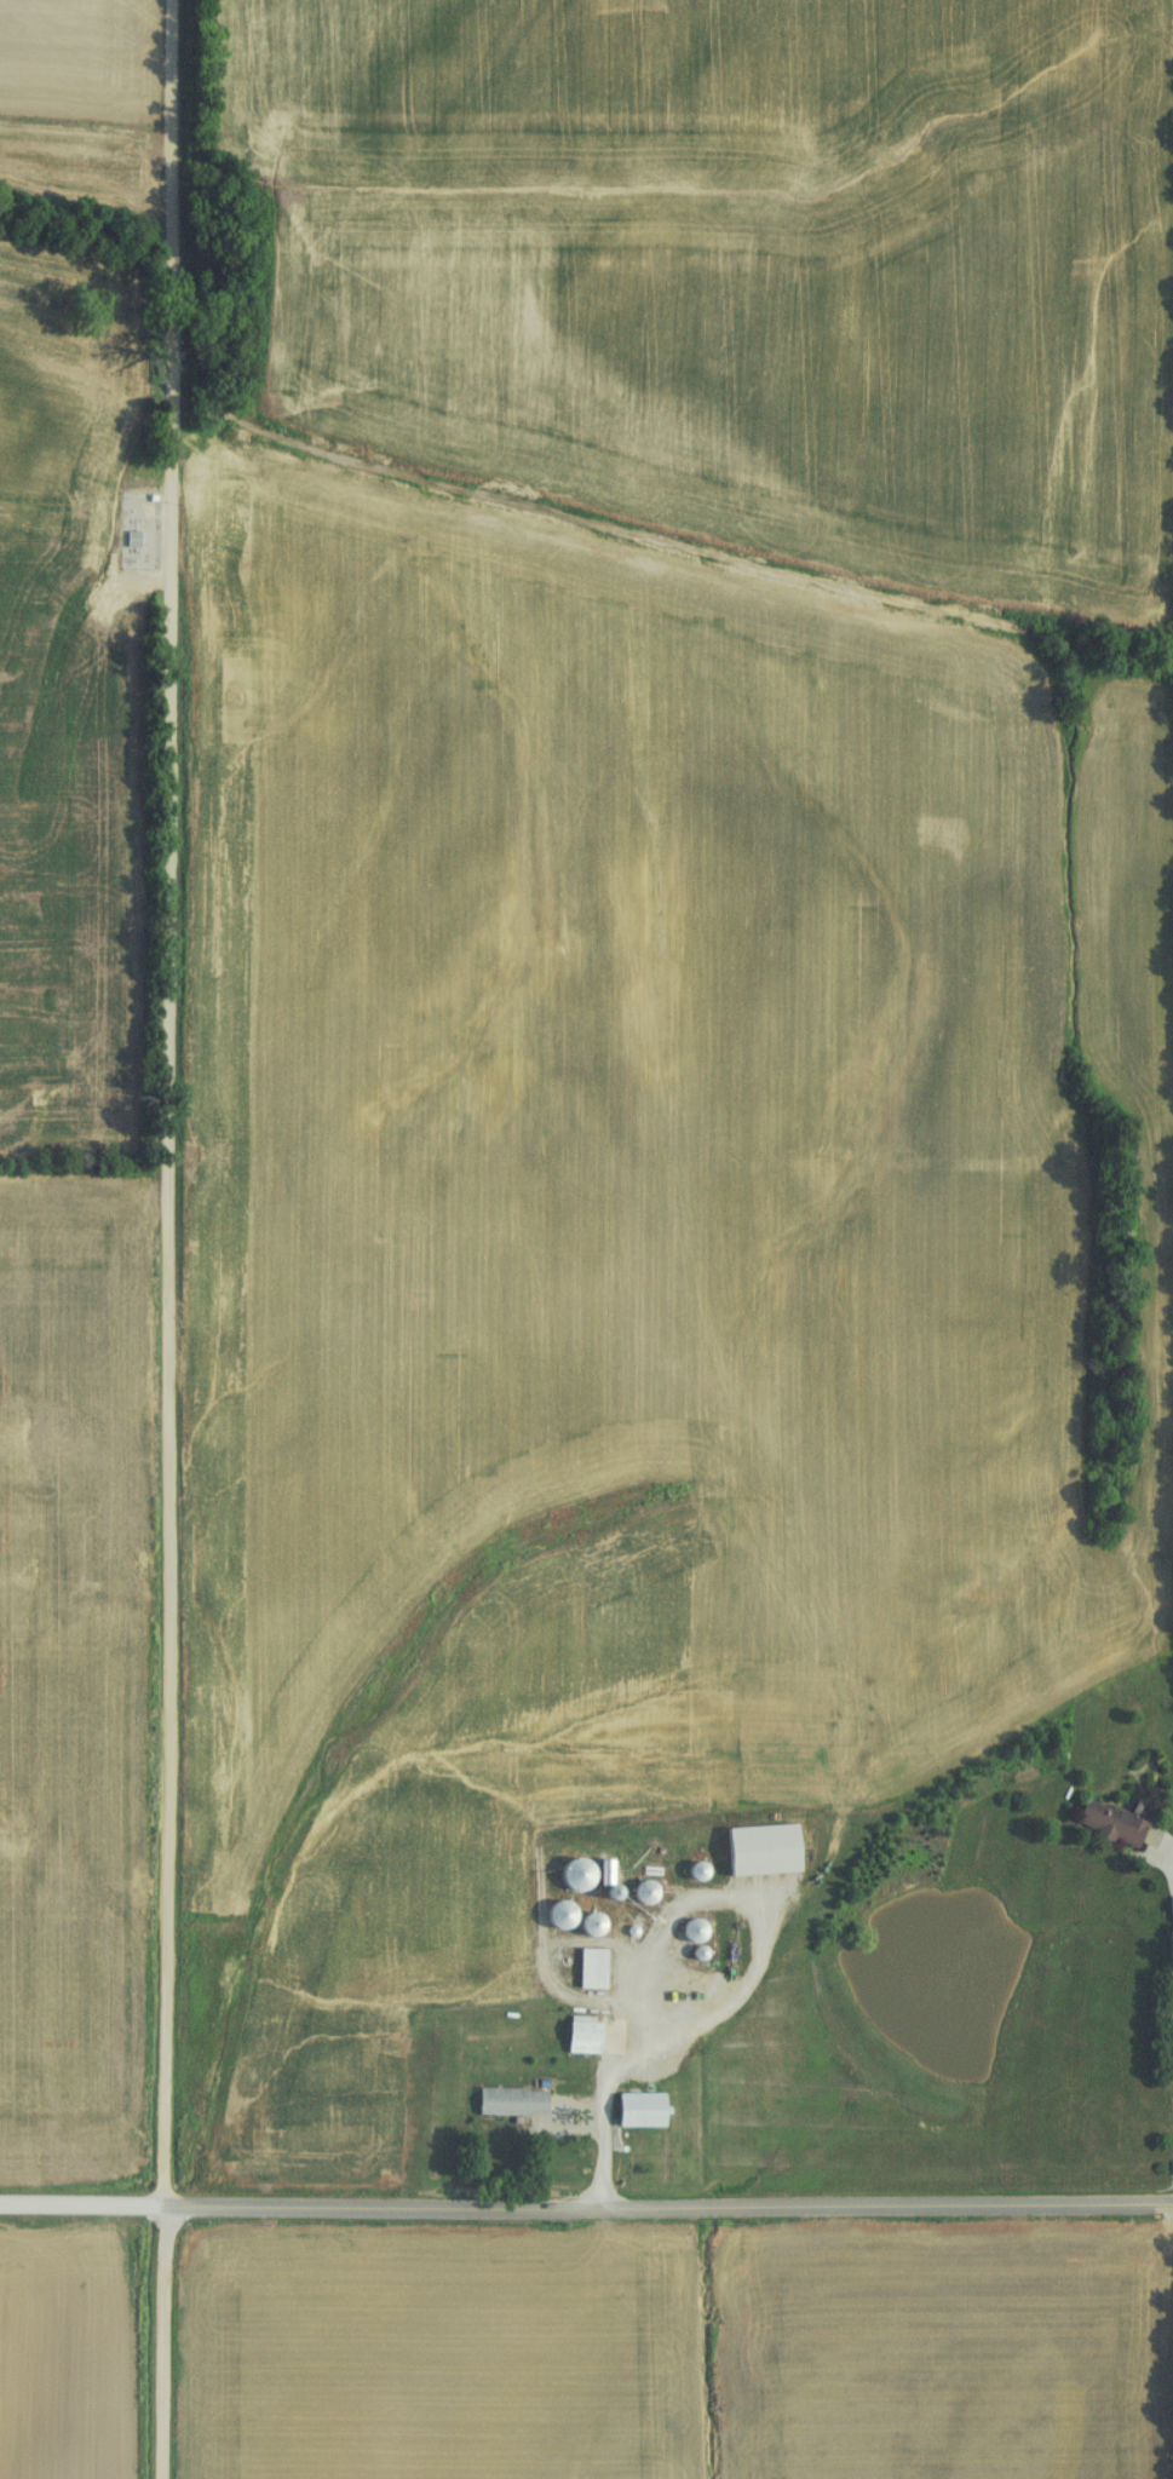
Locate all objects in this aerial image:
building: (128, 540)
road: (169, 1238)
building: (1103, 1823)
building: (754, 1851)
building: (689, 1871)
building: (569, 1876)
building: (638, 1893)
building: (553, 1914)
building: (587, 1921)
building: (685, 1932)
building: (585, 1969)
building: (576, 2036)
building: (651, 2043)
building: (506, 2101)
building: (632, 2109)
road: (605, 2115)
road: (586, 2208)

